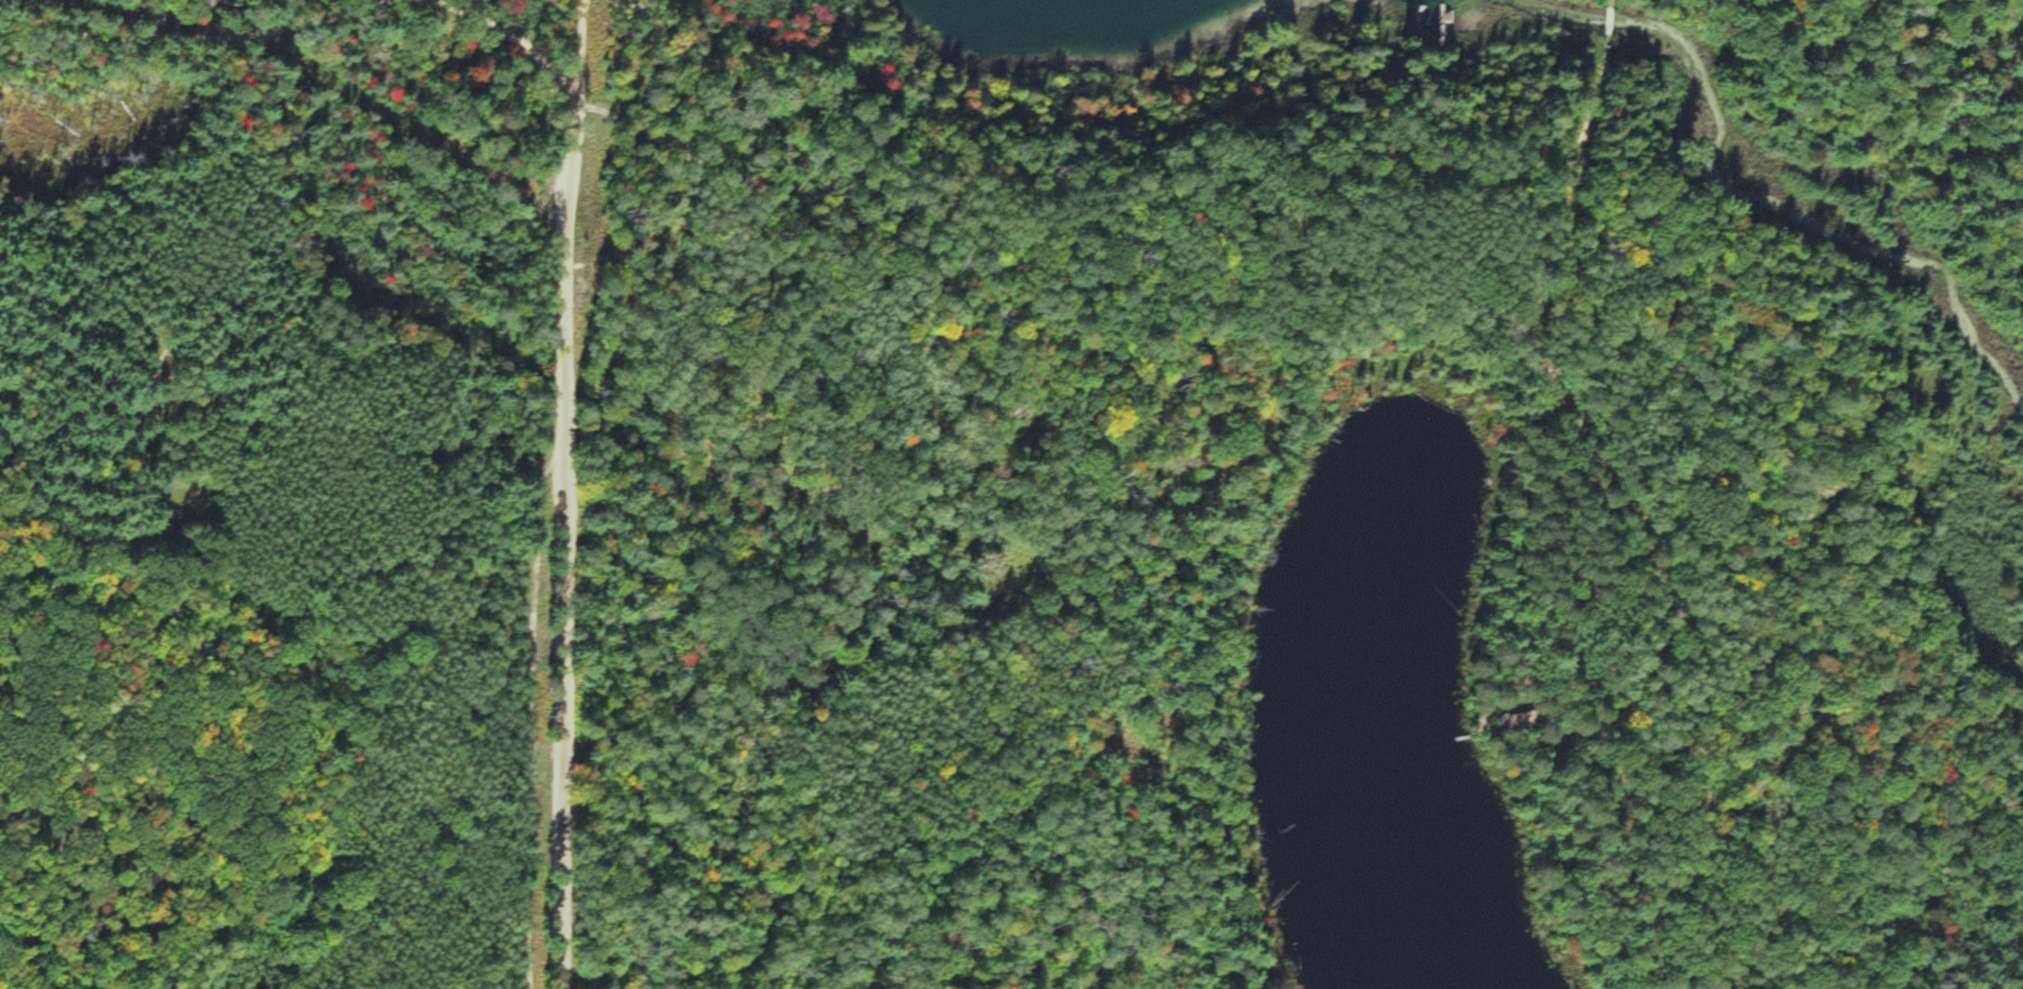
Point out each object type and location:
road: (1612, 1)
road: (1611, 17)
road: (194, 35)
road: (514, 38)
road: (578, 44)
road: (1486, 195)
river: (1763, 198)
road: (1059, 215)
road: (1601, 514)
road: (565, 538)

